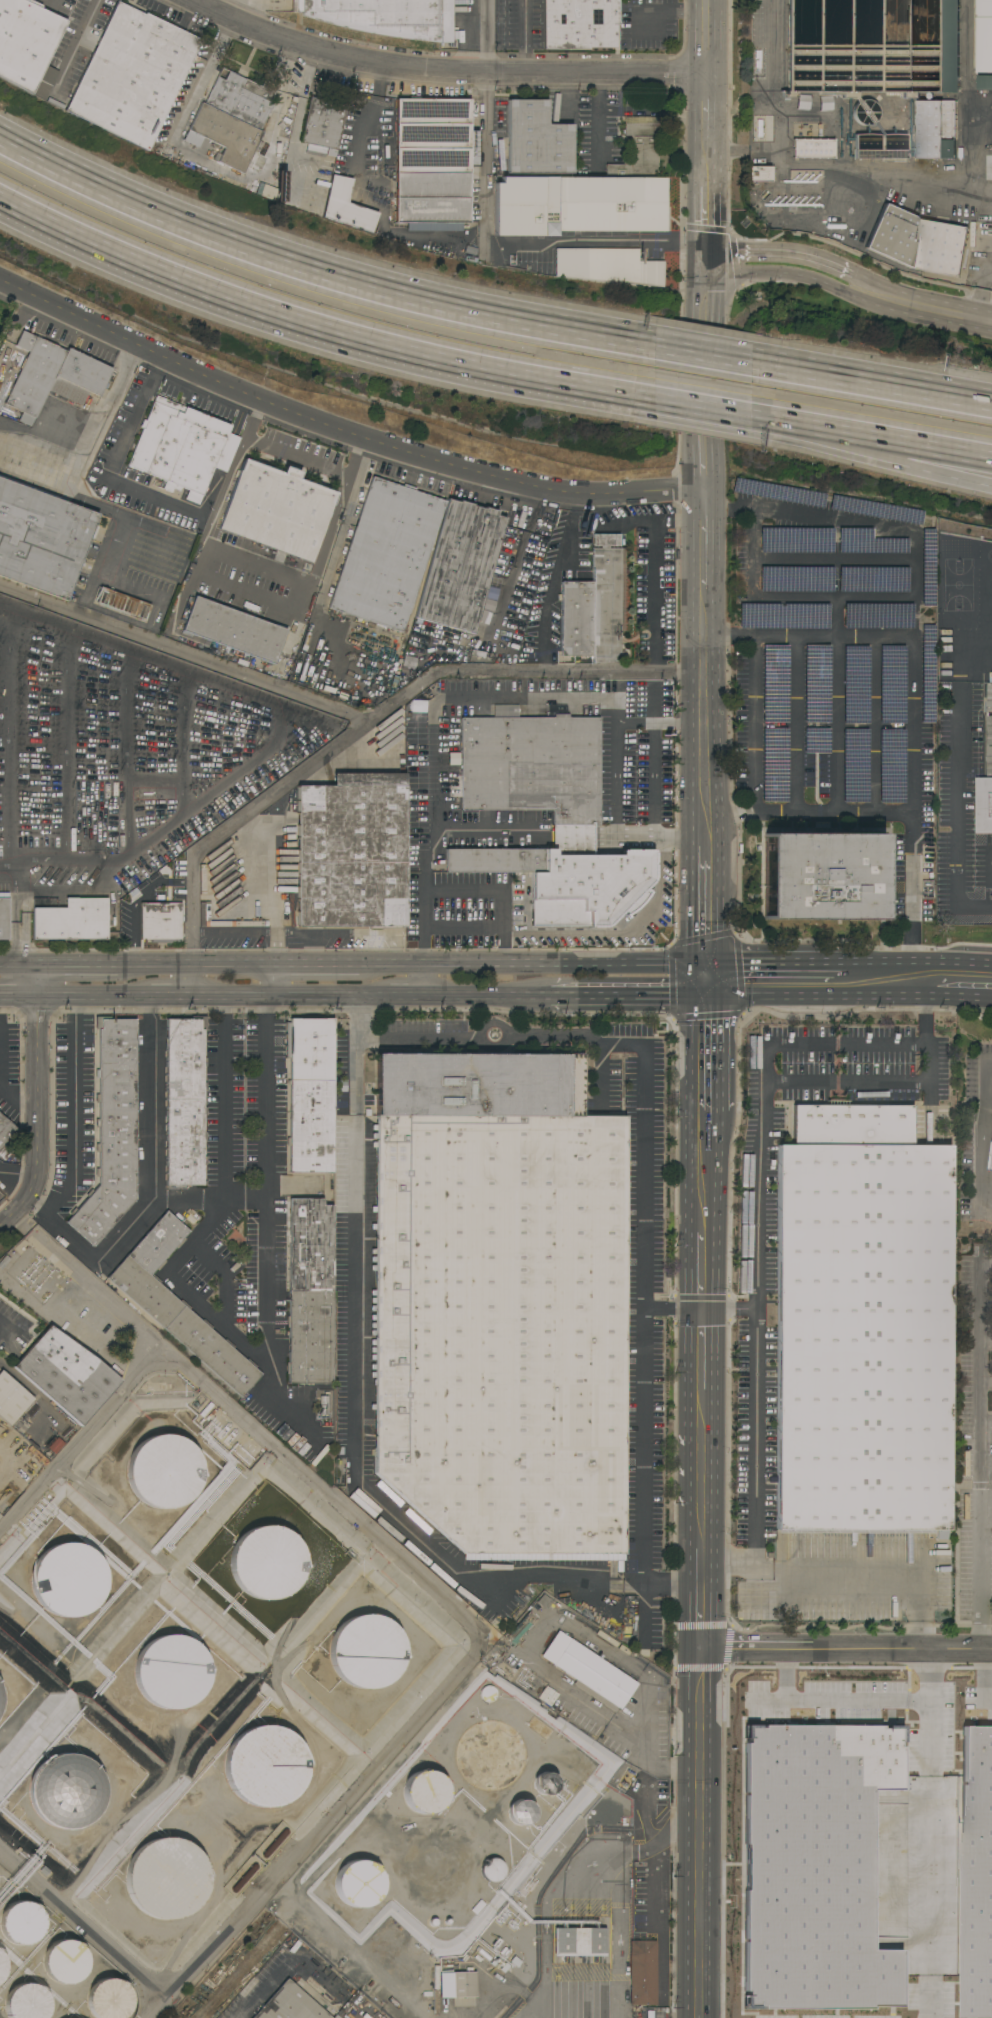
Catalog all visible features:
road: (658, 9)
building: (384, 17)
building: (578, 23)
road: (486, 35)
building: (983, 36)
building: (26, 41)
road: (76, 44)
building: (196, 58)
building: (881, 58)
road: (963, 68)
road: (445, 70)
building: (133, 75)
building: (984, 82)
road: (565, 95)
road: (776, 111)
building: (809, 114)
building: (233, 119)
road: (597, 122)
building: (322, 127)
road: (708, 129)
building: (934, 129)
building: (537, 140)
building: (640, 148)
building: (813, 149)
road: (485, 159)
building: (434, 160)
building: (313, 170)
building: (760, 174)
road: (915, 190)
road: (979, 202)
building: (384, 203)
building: (610, 205)
building: (345, 206)
building: (524, 208)
building: (972, 234)
building: (917, 242)
road: (456, 243)
road: (795, 258)
building: (610, 266)
road: (791, 273)
road: (317, 276)
road: (982, 286)
road: (932, 308)
road: (318, 324)
road: (702, 358)
building: (52, 376)
road: (871, 386)
road: (703, 405)
road: (807, 423)
road: (341, 429)
road: (926, 444)
building: (182, 448)
road: (296, 457)
road: (116, 460)
road: (922, 467)
road: (221, 491)
road: (68, 493)
building: (278, 509)
road: (329, 531)
road: (569, 533)
building: (42, 539)
building: (947, 540)
building: (387, 554)
road: (834, 559)
road: (200, 560)
road: (255, 566)
building: (460, 566)
road: (261, 596)
road: (656, 598)
road: (900, 598)
building: (123, 604)
building: (594, 604)
road: (706, 611)
road: (837, 618)
building: (234, 630)
road: (185, 655)
parking lot: (838, 675)
building: (990, 677)
building: (926, 679)
road: (915, 695)
road: (552, 701)
building: (507, 711)
road: (378, 716)
road: (661, 725)
road: (758, 725)
road: (796, 725)
road: (837, 725)
road: (876, 725)
building: (988, 729)
road: (8, 747)
road: (183, 749)
road: (66, 755)
road: (126, 758)
road: (243, 767)
road: (617, 770)
road: (958, 784)
building: (983, 805)
road: (810, 813)
building: (576, 818)
road: (656, 839)
road: (431, 840)
building: (352, 852)
road: (66, 862)
road: (9, 864)
road: (987, 866)
road: (19, 875)
building: (822, 877)
road: (271, 889)
road: (463, 893)
road: (503, 912)
building: (4, 916)
building: (71, 920)
building: (161, 922)
road: (578, 931)
road: (503, 948)
road: (531, 964)
traffic signals: (705, 964)
road: (775, 964)
road: (880, 964)
road: (954, 964)
road: (178, 967)
road: (705, 981)
road: (19, 997)
road: (95, 997)
road: (819, 997)
road: (350, 998)
road: (628, 998)
traffic signals: (705, 998)
road: (963, 998)
parking lot: (9, 1071)
road: (794, 1082)
building: (310, 1094)
parking lot: (245, 1098)
road: (17, 1101)
building: (185, 1101)
road: (38, 1104)
road: (987, 1107)
parking lot: (74, 1111)
road: (75, 1112)
building: (6, 1131)
building: (112, 1131)
road: (981, 1132)
road: (703, 1154)
building: (990, 1158)
road: (13, 1186)
road: (151, 1188)
road: (646, 1193)
road: (209, 1202)
parking lot: (244, 1270)
road: (226, 1276)
building: (309, 1292)
road: (985, 1300)
building: (500, 1303)
building: (178, 1305)
road: (674, 1310)
traffic signals: (702, 1310)
building: (861, 1324)
road: (6, 1330)
road: (242, 1341)
road: (985, 1341)
road: (759, 1352)
road: (701, 1360)
road: (979, 1362)
parking lot: (975, 1363)
building: (66, 1375)
road: (271, 1376)
road: (985, 1382)
road: (356, 1389)
building: (12, 1399)
building: (323, 1406)
road: (986, 1421)
road: (81, 1436)
building: (57, 1443)
building: (38, 1455)
building: (164, 1472)
road: (700, 1477)
road: (979, 1556)
building: (267, 1562)
road: (887, 1578)
building: (68, 1580)
road: (671, 1581)
road: (699, 1594)
road: (449, 1603)
building: (607, 1639)
traffic signals: (699, 1647)
road: (845, 1648)
building: (366, 1652)
building: (588, 1670)
road: (986, 1670)
building: (171, 1672)
road: (789, 1672)
road: (932, 1672)
road: (989, 1691)
building: (488, 1694)
storage tank: (488, 1694)
road: (843, 1695)
building: (0, 1699)
road: (592, 1704)
building: (265, 1766)
building: (545, 1783)
storage tank: (545, 1783)
building: (66, 1791)
building: (424, 1792)
storage tank: (424, 1792)
building: (519, 1812)
storage tank: (519, 1812)
road: (697, 1832)
building: (273, 1843)
road: (932, 1856)
road: (651, 1860)
building: (814, 1867)
building: (492, 1870)
storage tank: (492, 1870)
building: (977, 1873)
building: (166, 1878)
building: (243, 1878)
building: (358, 1883)
storage tank: (358, 1883)
building: (21, 1923)
storage tank: (21, 1923)
road: (614, 1923)
building: (580, 1942)
building: (0, 1951)
storage tank: (0, 1951)
building: (65, 1962)
storage tank: (65, 1962)
building: (2, 1967)
storage tank: (2, 1967)
road: (281, 1969)
building: (643, 1973)
road: (371, 1974)
building: (436, 1977)
building: (457, 1984)
building: (108, 1999)
storage tank: (108, 1999)
building: (27, 2002)
storage tank: (27, 2002)
building: (435, 2003)
building: (290, 2004)
building: (336, 2017)

